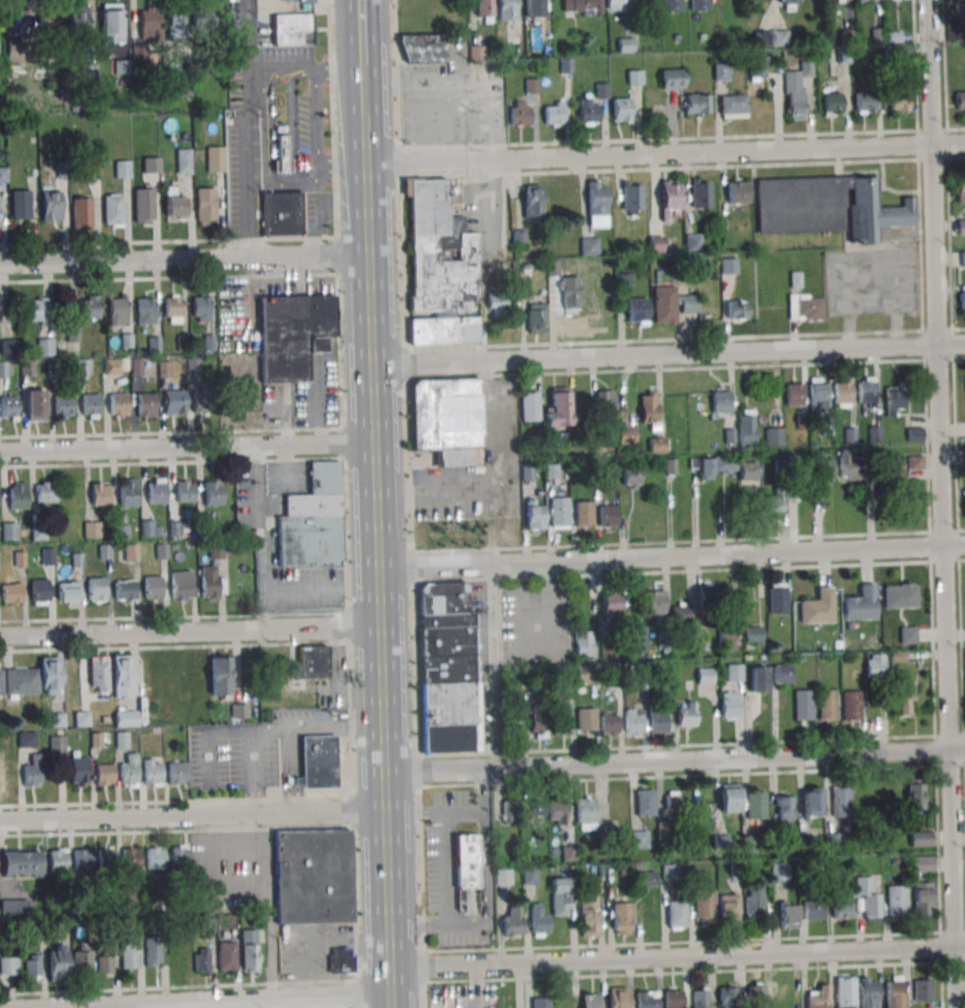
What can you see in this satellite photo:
building: (296, 0)
power substation: (301, 0)
building: (838, 0)
building: (865, 0)
building: (614, 5)
building: (671, 5)
building: (699, 5)
building: (787, 5)
building: (581, 7)
building: (533, 8)
building: (483, 10)
building: (506, 10)
building: (79, 17)
building: (49, 20)
building: (150, 21)
building: (112, 23)
building: (204, 23)
building: (175, 26)
building: (295, 29)
road: (361, 35)
building: (779, 38)
building: (625, 44)
building: (423, 48)
building: (138, 50)
building: (18, 51)
building: (477, 53)
road: (291, 67)
building: (756, 68)
building: (89, 71)
road: (338, 71)
building: (720, 71)
building: (671, 78)
road: (423, 84)
building: (532, 85)
building: (795, 90)
building: (960, 99)
building: (898, 101)
building: (863, 102)
building: (694, 104)
building: (831, 104)
building: (732, 105)
building: (620, 109)
building: (586, 111)
building: (520, 113)
building: (553, 113)
road: (290, 118)
road: (317, 119)
road: (270, 120)
road: (488, 122)
road: (454, 123)
road: (418, 124)
building: (282, 153)
road: (664, 153)
road: (264, 157)
building: (215, 158)
building: (184, 161)
road: (242, 162)
road: (363, 163)
building: (151, 164)
road: (341, 167)
building: (123, 169)
building: (3, 174)
building: (960, 189)
building: (737, 192)
building: (698, 193)
building: (631, 198)
building: (532, 201)
building: (669, 201)
building: (50, 203)
building: (596, 203)
building: (20, 204)
building: (143, 205)
building: (175, 205)
building: (206, 206)
building: (826, 206)
road: (316, 207)
building: (113, 209)
building: (81, 213)
building: (282, 213)
building: (961, 226)
building: (692, 241)
building: (655, 244)
building: (588, 246)
building: (439, 251)
building: (963, 258)
road: (184, 260)
building: (729, 265)
building: (568, 293)
building: (962, 299)
building: (496, 304)
building: (671, 304)
building: (89, 307)
building: (805, 307)
building: (200, 308)
building: (172, 309)
building: (737, 309)
building: (145, 310)
building: (36, 311)
building: (117, 311)
building: (637, 311)
building: (535, 317)
building: (444, 331)
building: (73, 333)
building: (293, 334)
building: (8, 347)
building: (45, 347)
road: (668, 354)
building: (83, 366)
building: (110, 366)
building: (26, 367)
building: (2, 369)
building: (866, 391)
building: (842, 393)
building: (794, 394)
building: (818, 394)
building: (893, 399)
building: (174, 400)
building: (604, 401)
building: (203, 402)
building: (720, 402)
building: (35, 404)
building: (118, 404)
building: (62, 405)
building: (89, 405)
building: (145, 405)
building: (8, 406)
building: (528, 406)
building: (557, 408)
building: (650, 409)
building: (447, 420)
building: (774, 433)
building: (914, 434)
building: (625, 435)
building: (659, 445)
road: (186, 446)
building: (963, 453)
building: (915, 462)
building: (715, 466)
building: (893, 467)
building: (848, 469)
building: (551, 471)
building: (747, 471)
building: (823, 471)
building: (630, 477)
building: (156, 491)
building: (183, 491)
building: (45, 492)
building: (127, 492)
building: (99, 493)
building: (212, 493)
building: (17, 495)
building: (964, 503)
building: (775, 504)
road: (942, 504)
building: (559, 511)
building: (583, 513)
building: (608, 515)
building: (535, 516)
building: (313, 521)
building: (147, 527)
building: (91, 529)
building: (9, 531)
building: (120, 531)
road: (261, 536)
building: (104, 551)
building: (215, 551)
building: (131, 552)
road: (671, 556)
building: (211, 583)
building: (181, 585)
building: (152, 588)
building: (96, 589)
road: (321, 589)
building: (124, 590)
building: (39, 591)
building: (68, 592)
building: (11, 593)
building: (706, 594)
building: (899, 595)
building: (778, 597)
building: (860, 603)
building: (655, 604)
building: (610, 605)
building: (817, 606)
building: (680, 614)
road: (189, 630)
road: (378, 632)
building: (907, 634)
building: (753, 635)
building: (638, 637)
building: (726, 638)
building: (583, 644)
building: (606, 652)
building: (312, 661)
building: (874, 665)
road: (493, 666)
building: (451, 668)
building: (734, 672)
building: (782, 673)
building: (584, 674)
building: (98, 675)
building: (219, 675)
building: (704, 675)
building: (122, 676)
building: (758, 679)
building: (901, 701)
building: (729, 704)
building: (827, 704)
building: (803, 705)
building: (851, 705)
building: (515, 708)
building: (239, 710)
building: (686, 713)
building: (538, 716)
building: (125, 718)
building: (561, 718)
building: (585, 719)
building: (657, 720)
building: (633, 721)
building: (610, 723)
road: (333, 727)
road: (268, 729)
road: (207, 736)
building: (26, 739)
building: (4, 741)
building: (56, 744)
road: (673, 761)
building: (317, 762)
building: (128, 770)
building: (33, 771)
building: (78, 771)
road: (285, 771)
building: (152, 772)
building: (176, 772)
road: (254, 772)
building: (8, 775)
building: (104, 775)
building: (915, 793)
building: (729, 797)
building: (840, 801)
building: (645, 802)
building: (811, 802)
building: (673, 804)
building: (756, 804)
building: (783, 809)
road: (433, 810)
building: (515, 810)
building: (556, 812)
building: (585, 813)
road: (192, 815)
building: (665, 830)
building: (920, 838)
building: (640, 839)
building: (834, 839)
building: (750, 843)
building: (568, 853)
building: (179, 855)
building: (154, 858)
building: (58, 859)
building: (82, 859)
building: (106, 859)
building: (466, 860)
building: (131, 861)
building: (21, 862)
building: (922, 863)
road: (447, 867)
building: (668, 871)
building: (780, 872)
building: (530, 875)
building: (312, 876)
building: (503, 876)
building: (644, 879)
building: (126, 894)
road: (485, 894)
building: (559, 896)
building: (922, 898)
building: (869, 900)
building: (897, 900)
building: (754, 902)
building: (703, 905)
building: (13, 906)
road: (266, 907)
building: (728, 908)
building: (842, 910)
building: (813, 911)
building: (676, 914)
building: (787, 914)
building: (588, 918)
building: (621, 918)
building: (539, 921)
building: (512, 922)
road: (318, 939)
building: (249, 950)
building: (130, 951)
building: (152, 952)
building: (227, 955)
road: (677, 956)
building: (81, 959)
building: (201, 960)
building: (340, 960)
building: (57, 962)
building: (105, 963)
building: (33, 965)
building: (8, 966)
building: (922, 989)
building: (894, 991)
building: (845, 992)
building: (868, 992)
building: (728, 996)
building: (756, 996)
building: (617, 997)
building: (672, 997)
building: (701, 997)
building: (781, 997)
building: (818, 997)
building: (647, 999)
road: (224, 1001)
building: (540, 1001)
building: (590, 1001)
road: (305, 1003)
road: (236, 1004)

